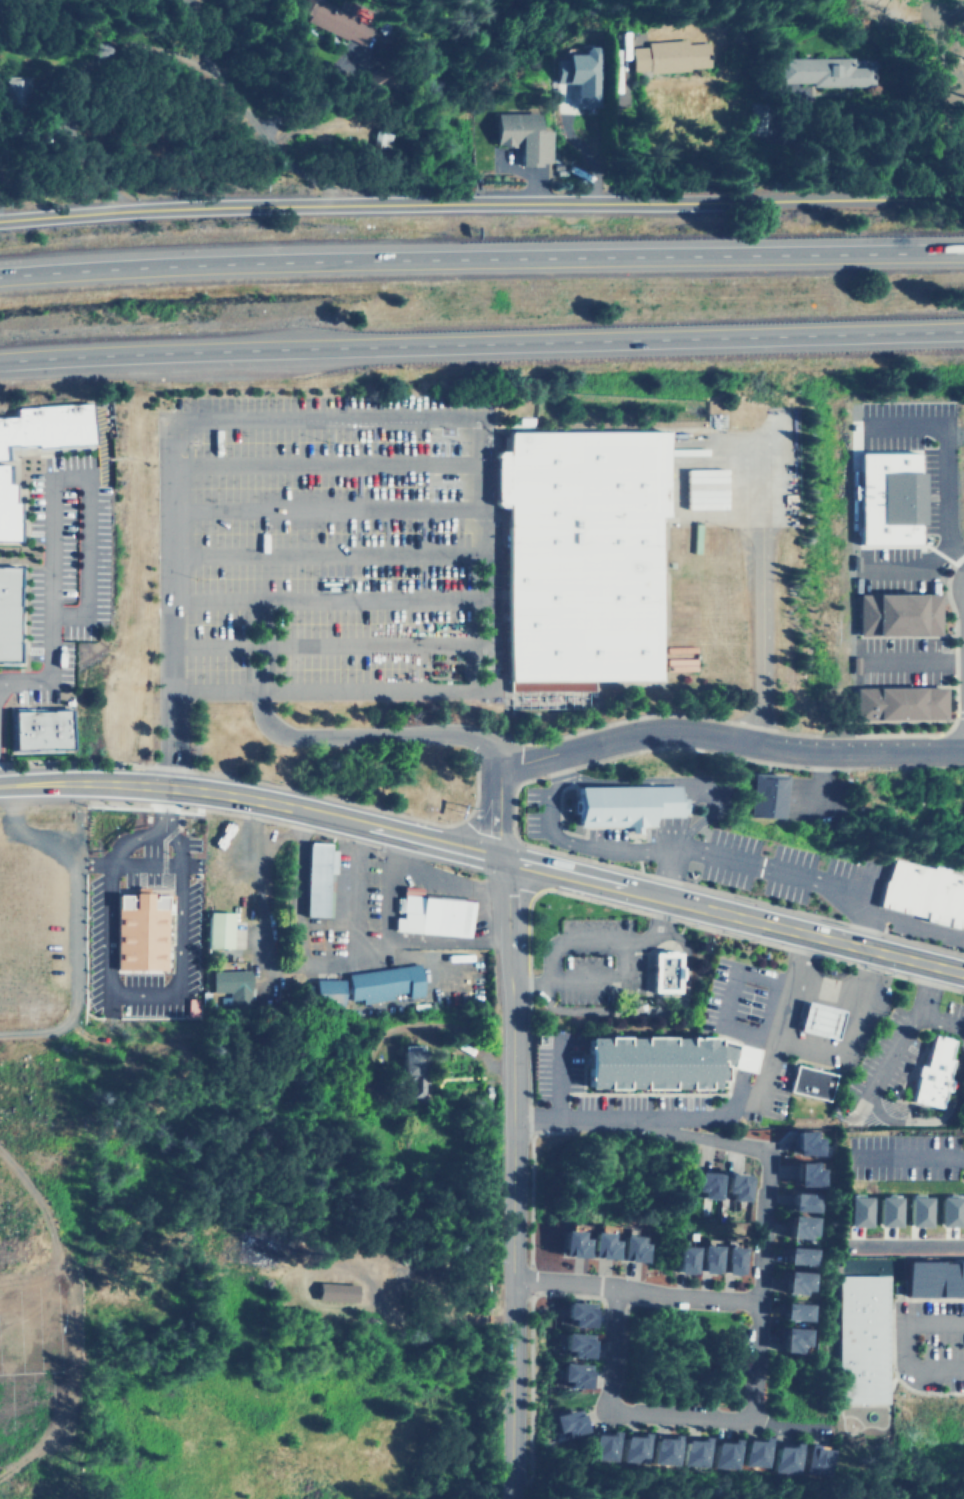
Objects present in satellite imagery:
building: (336, 20)
road: (162, 31)
building: (669, 55)
building: (825, 71)
building: (578, 74)
building: (15, 90)
building: (519, 135)
road: (481, 201)
road: (481, 255)
road: (481, 345)
road: (451, 416)
building: (42, 426)
road: (946, 454)
road: (321, 463)
road: (86, 476)
building: (887, 501)
road: (322, 508)
building: (6, 509)
parking lot: (316, 543)
road: (323, 552)
building: (576, 554)
road: (909, 567)
road: (755, 594)
road: (324, 597)
building: (9, 613)
building: (898, 615)
road: (910, 663)
road: (259, 672)
road: (48, 673)
building: (908, 702)
road: (374, 724)
building: (36, 729)
road: (727, 733)
road: (172, 744)
road: (557, 762)
road: (683, 784)
building: (764, 794)
road: (250, 798)
building: (884, 800)
building: (622, 803)
road: (495, 807)
road: (580, 846)
road: (794, 876)
building: (314, 877)
building: (919, 890)
road: (730, 914)
building: (433, 916)
road: (911, 921)
building: (138, 930)
building: (217, 930)
road: (654, 930)
road: (565, 944)
parking lot: (599, 962)
building: (661, 972)
building: (384, 985)
road: (608, 985)
building: (233, 986)
road: (527, 987)
building: (328, 990)
road: (110, 991)
road: (726, 997)
parking lot: (736, 1001)
building: (193, 1006)
road: (647, 1011)
building: (814, 1020)
gas station: (814, 1020)
road: (938, 1021)
road: (904, 1029)
parking lot: (554, 1060)
building: (656, 1060)
road: (505, 1066)
building: (412, 1069)
road: (766, 1073)
building: (929, 1073)
road: (557, 1077)
building: (806, 1083)
parking lot: (780, 1091)
road: (641, 1117)
road: (938, 1119)
building: (812, 1134)
building: (800, 1143)
parking lot: (920, 1157)
road: (923, 1157)
building: (813, 1165)
building: (804, 1175)
building: (716, 1176)
building: (745, 1179)
building: (703, 1185)
building: (732, 1187)
building: (810, 1194)
building: (800, 1203)
building: (855, 1211)
building: (884, 1211)
building: (915, 1211)
building: (945, 1212)
building: (805, 1221)
parking lot: (950, 1226)
road: (951, 1228)
building: (567, 1245)
building: (596, 1247)
building: (805, 1247)
building: (241, 1249)
building: (628, 1250)
building: (795, 1257)
building: (707, 1259)
building: (680, 1260)
building: (732, 1261)
building: (807, 1273)
building: (933, 1279)
building: (793, 1283)
road: (761, 1287)
road: (634, 1289)
building: (331, 1291)
road: (660, 1299)
building: (593, 1304)
building: (805, 1304)
building: (791, 1313)
building: (574, 1314)
building: (802, 1331)
building: (589, 1334)
parking lot: (939, 1337)
building: (860, 1338)
building: (790, 1341)
road: (902, 1344)
building: (573, 1345)
road: (690, 1350)
park: (683, 1356)
building: (587, 1366)
building: (571, 1375)
road: (509, 1388)
road: (688, 1412)
building: (579, 1415)
road: (654, 1415)
building: (567, 1422)
building: (610, 1440)
building: (642, 1442)
building: (672, 1443)
building: (702, 1446)
building: (632, 1448)
building: (731, 1448)
building: (760, 1449)
building: (662, 1450)
building: (693, 1453)
building: (792, 1453)
building: (821, 1455)

